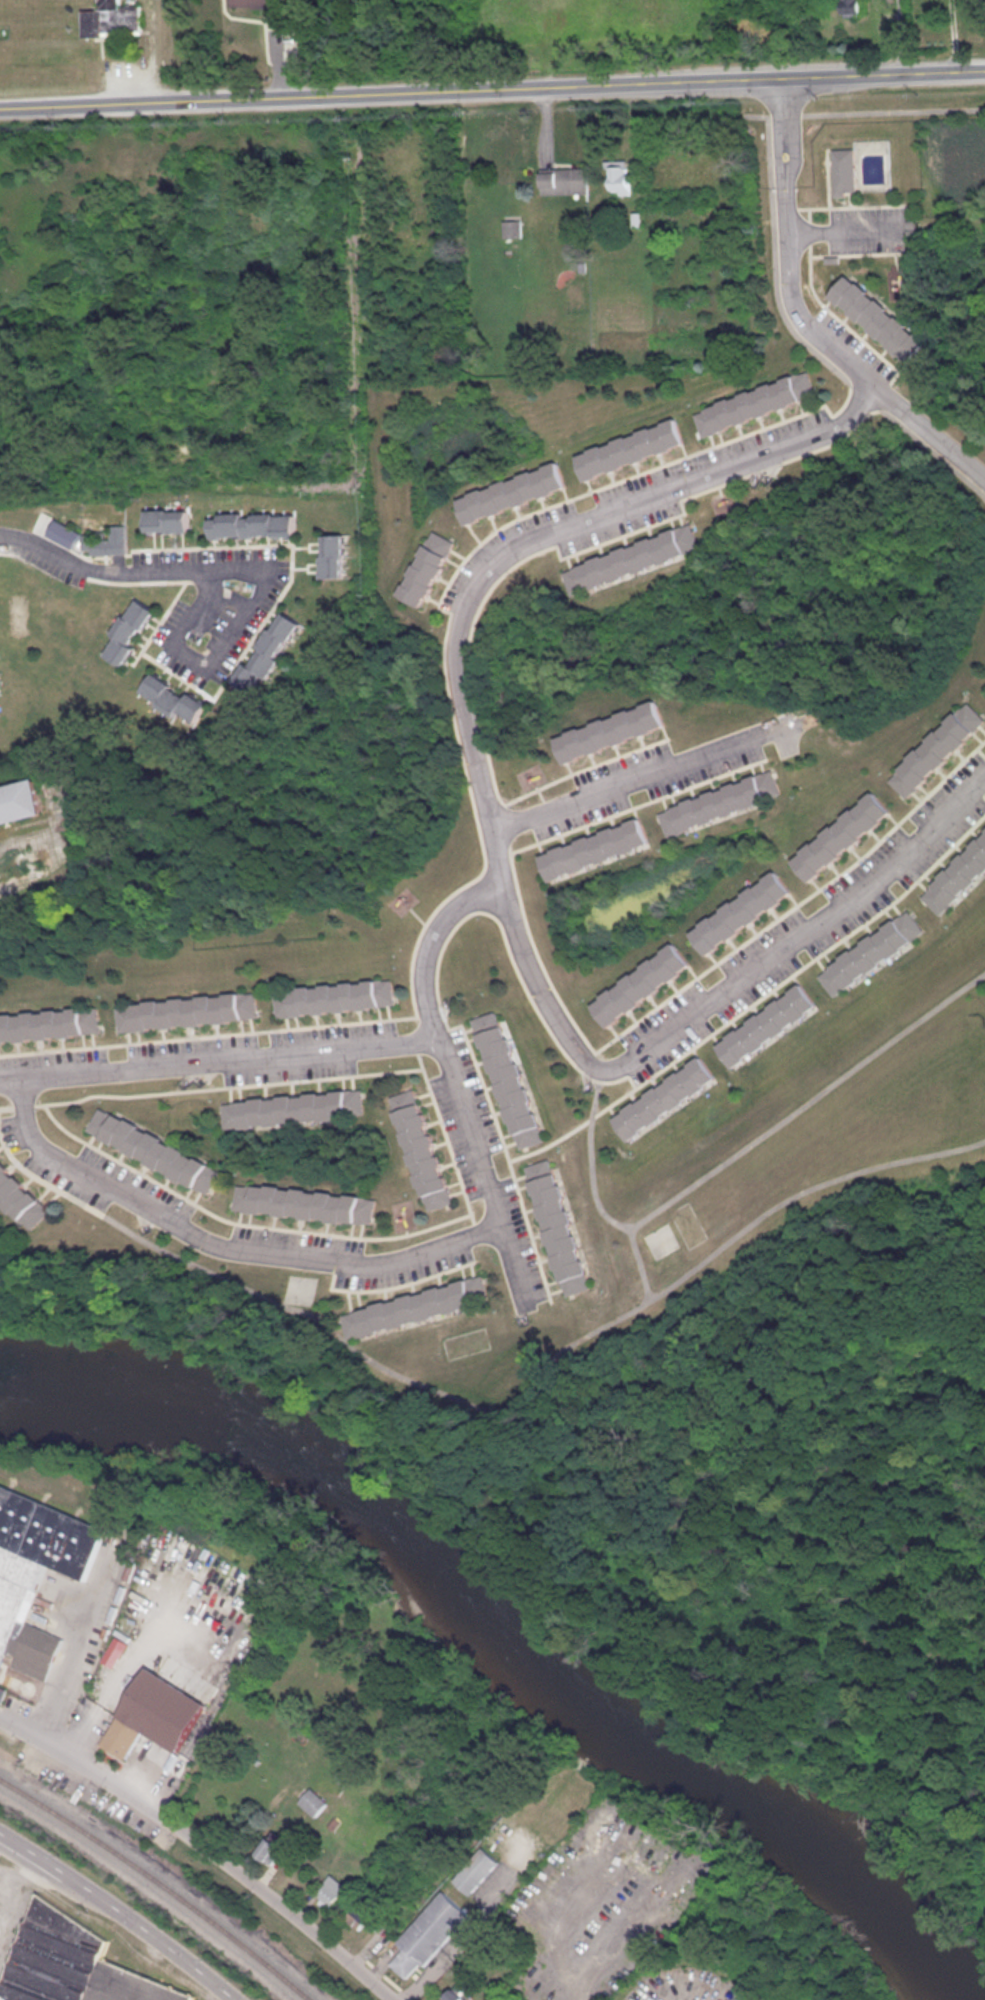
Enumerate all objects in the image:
building: (265, 5)
building: (851, 7)
building: (110, 18)
road: (953, 33)
road: (153, 49)
road: (967, 66)
road: (130, 71)
parking lot: (130, 72)
road: (130, 86)
road: (474, 86)
road: (893, 111)
road: (784, 115)
road: (826, 163)
building: (843, 170)
building: (620, 176)
building: (565, 180)
road: (849, 198)
road: (847, 206)
road: (808, 213)
building: (910, 223)
building: (512, 228)
road: (807, 232)
building: (911, 232)
road: (772, 241)
road: (791, 247)
road: (866, 253)
building: (829, 258)
building: (876, 317)
road: (841, 321)
road: (888, 386)
road: (866, 395)
building: (755, 403)
road: (933, 430)
building: (630, 449)
road: (933, 450)
building: (510, 492)
building: (167, 520)
building: (252, 524)
building: (65, 532)
road: (33, 533)
building: (99, 533)
building: (108, 541)
road: (82, 554)
building: (333, 555)
road: (106, 558)
building: (633, 559)
road: (514, 565)
building: (427, 567)
road: (104, 570)
road: (107, 572)
road: (140, 580)
road: (487, 580)
road: (283, 591)
park: (20, 615)
road: (161, 621)
building: (130, 631)
road: (183, 649)
building: (269, 651)
building: (175, 697)
building: (613, 731)
building: (939, 749)
road: (982, 751)
road: (479, 759)
road: (647, 774)
road: (469, 775)
road: (542, 791)
building: (19, 800)
building: (721, 802)
road: (548, 804)
road: (639, 805)
road: (507, 824)
building: (843, 835)
road: (29, 845)
building: (595, 848)
building: (955, 875)
road: (793, 907)
building: (741, 912)
building: (867, 952)
road: (534, 953)
road: (769, 961)
building: (636, 984)
road: (435, 986)
building: (330, 997)
building: (183, 1010)
building: (49, 1023)
building: (761, 1025)
road: (410, 1047)
road: (576, 1057)
road: (217, 1060)
building: (504, 1079)
road: (450, 1082)
road: (223, 1085)
building: (657, 1098)
road: (22, 1105)
road: (6, 1106)
building: (286, 1108)
road: (441, 1137)
building: (416, 1149)
building: (152, 1150)
building: (22, 1198)
building: (303, 1204)
road: (91, 1206)
road: (239, 1221)
building: (557, 1226)
road: (473, 1227)
park: (662, 1240)
road: (225, 1246)
road: (339, 1253)
road: (399, 1285)
park: (308, 1289)
building: (420, 1306)
road: (586, 1337)
building: (37, 1570)
river: (511, 1631)
road: (73, 1648)
building: (2, 1691)
building: (122, 1736)
building: (312, 1801)
road: (205, 1844)
building: (269, 1849)
building: (477, 1870)
railway: (160, 1882)
building: (330, 1891)
road: (8, 1893)
road: (122, 1910)
building: (360, 1915)
building: (430, 1933)
building: (72, 1964)
building: (457, 1991)

